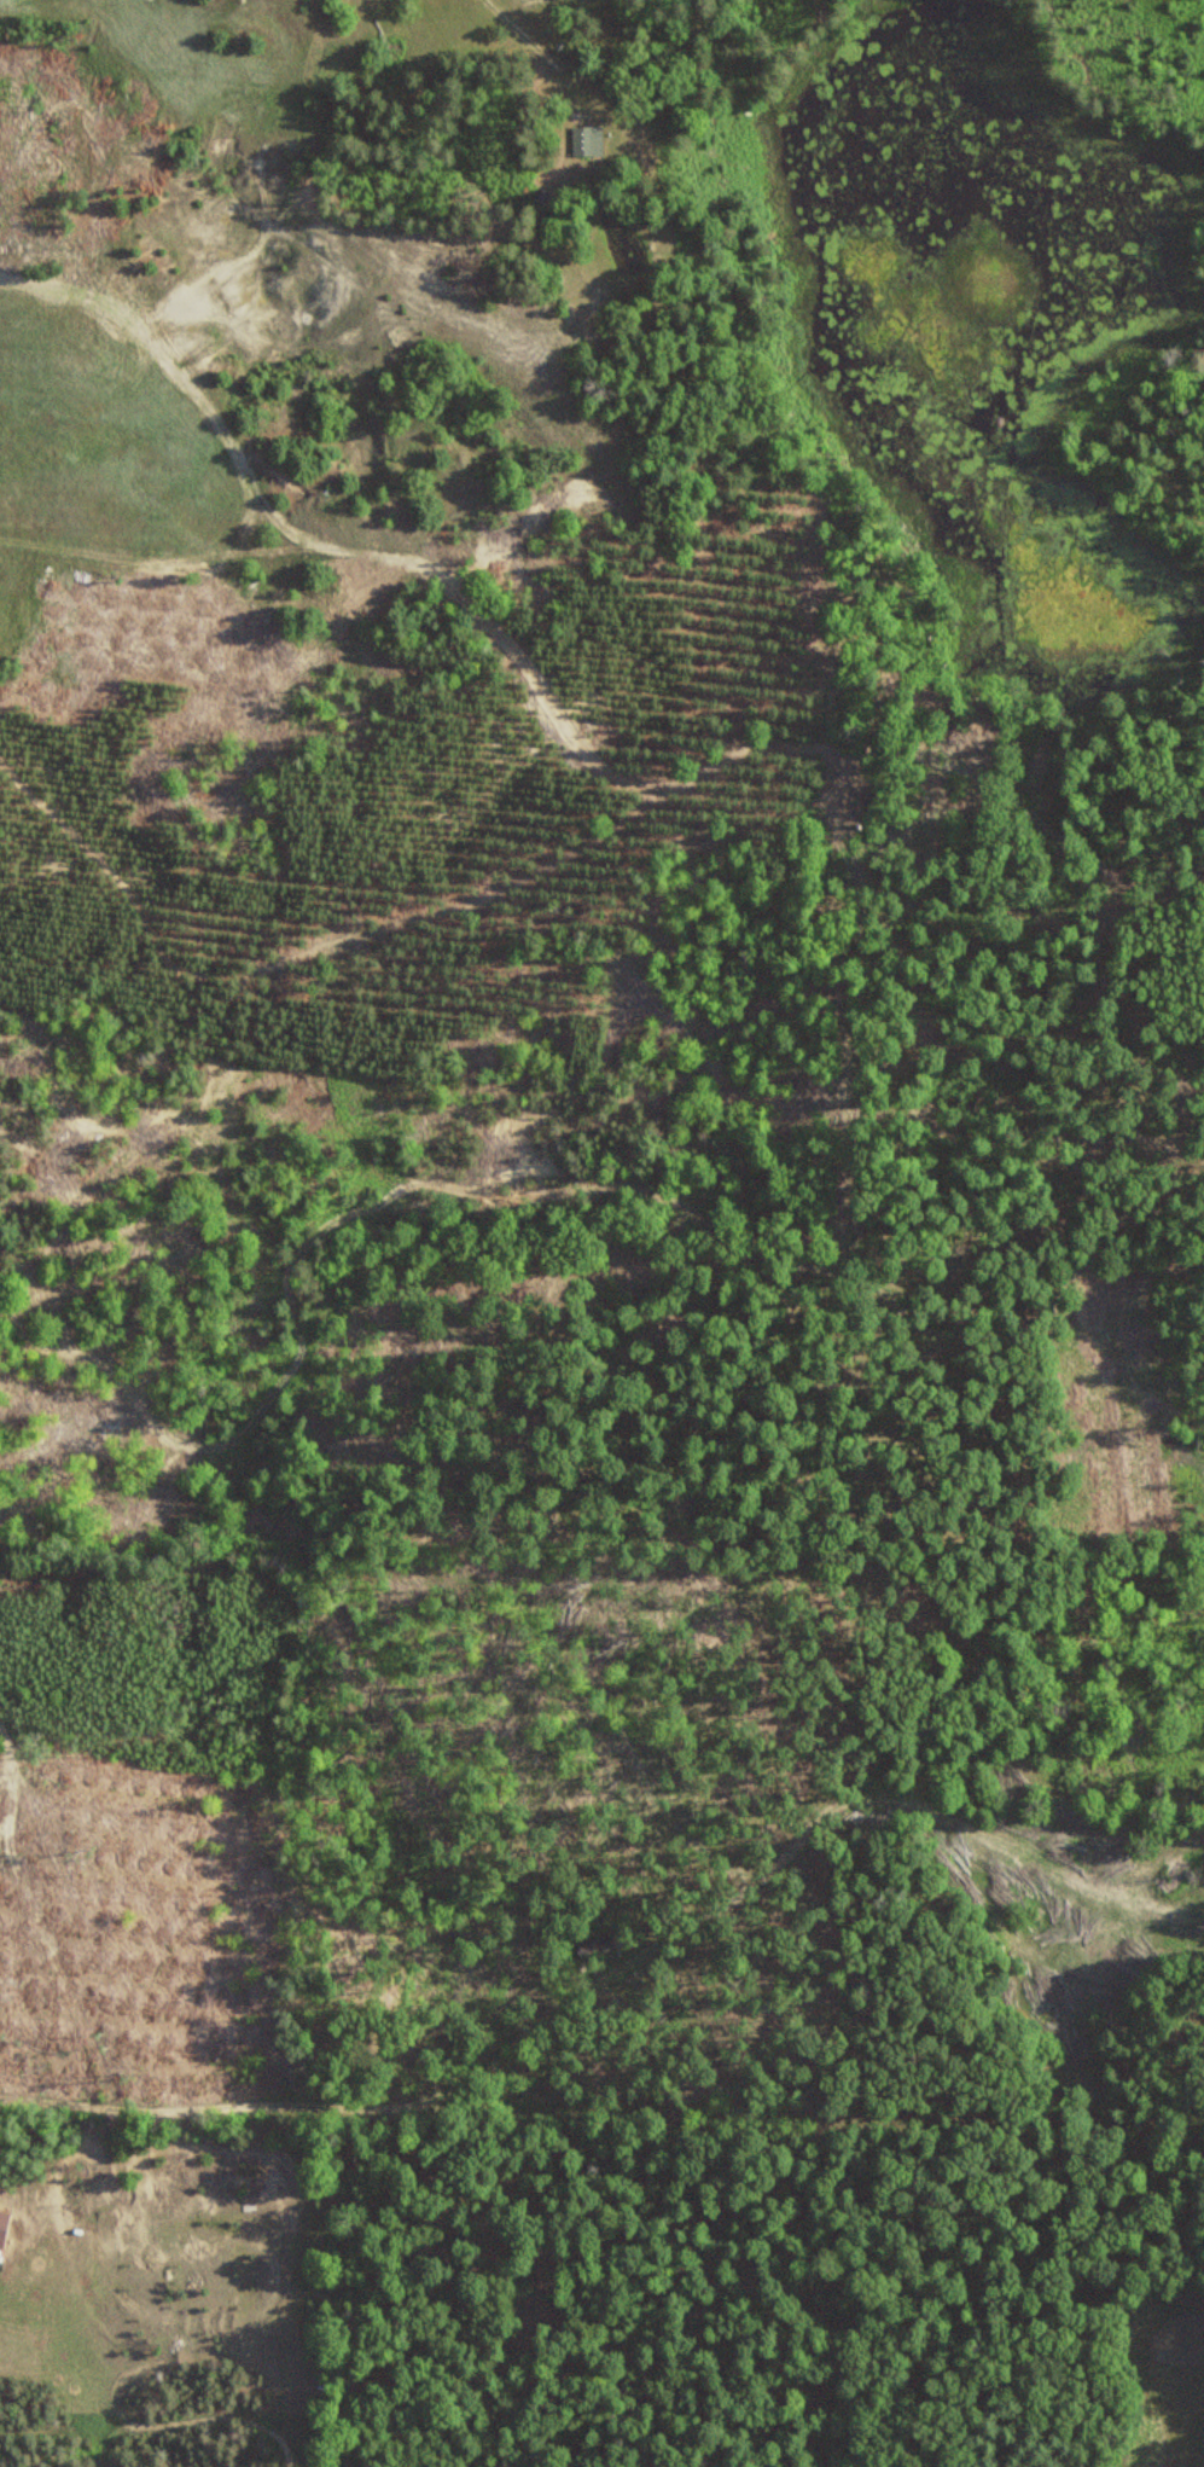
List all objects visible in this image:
road: (536, 53)
building: (587, 141)
building: (545, 199)
building: (600, 1944)
park: (1111, 2356)

